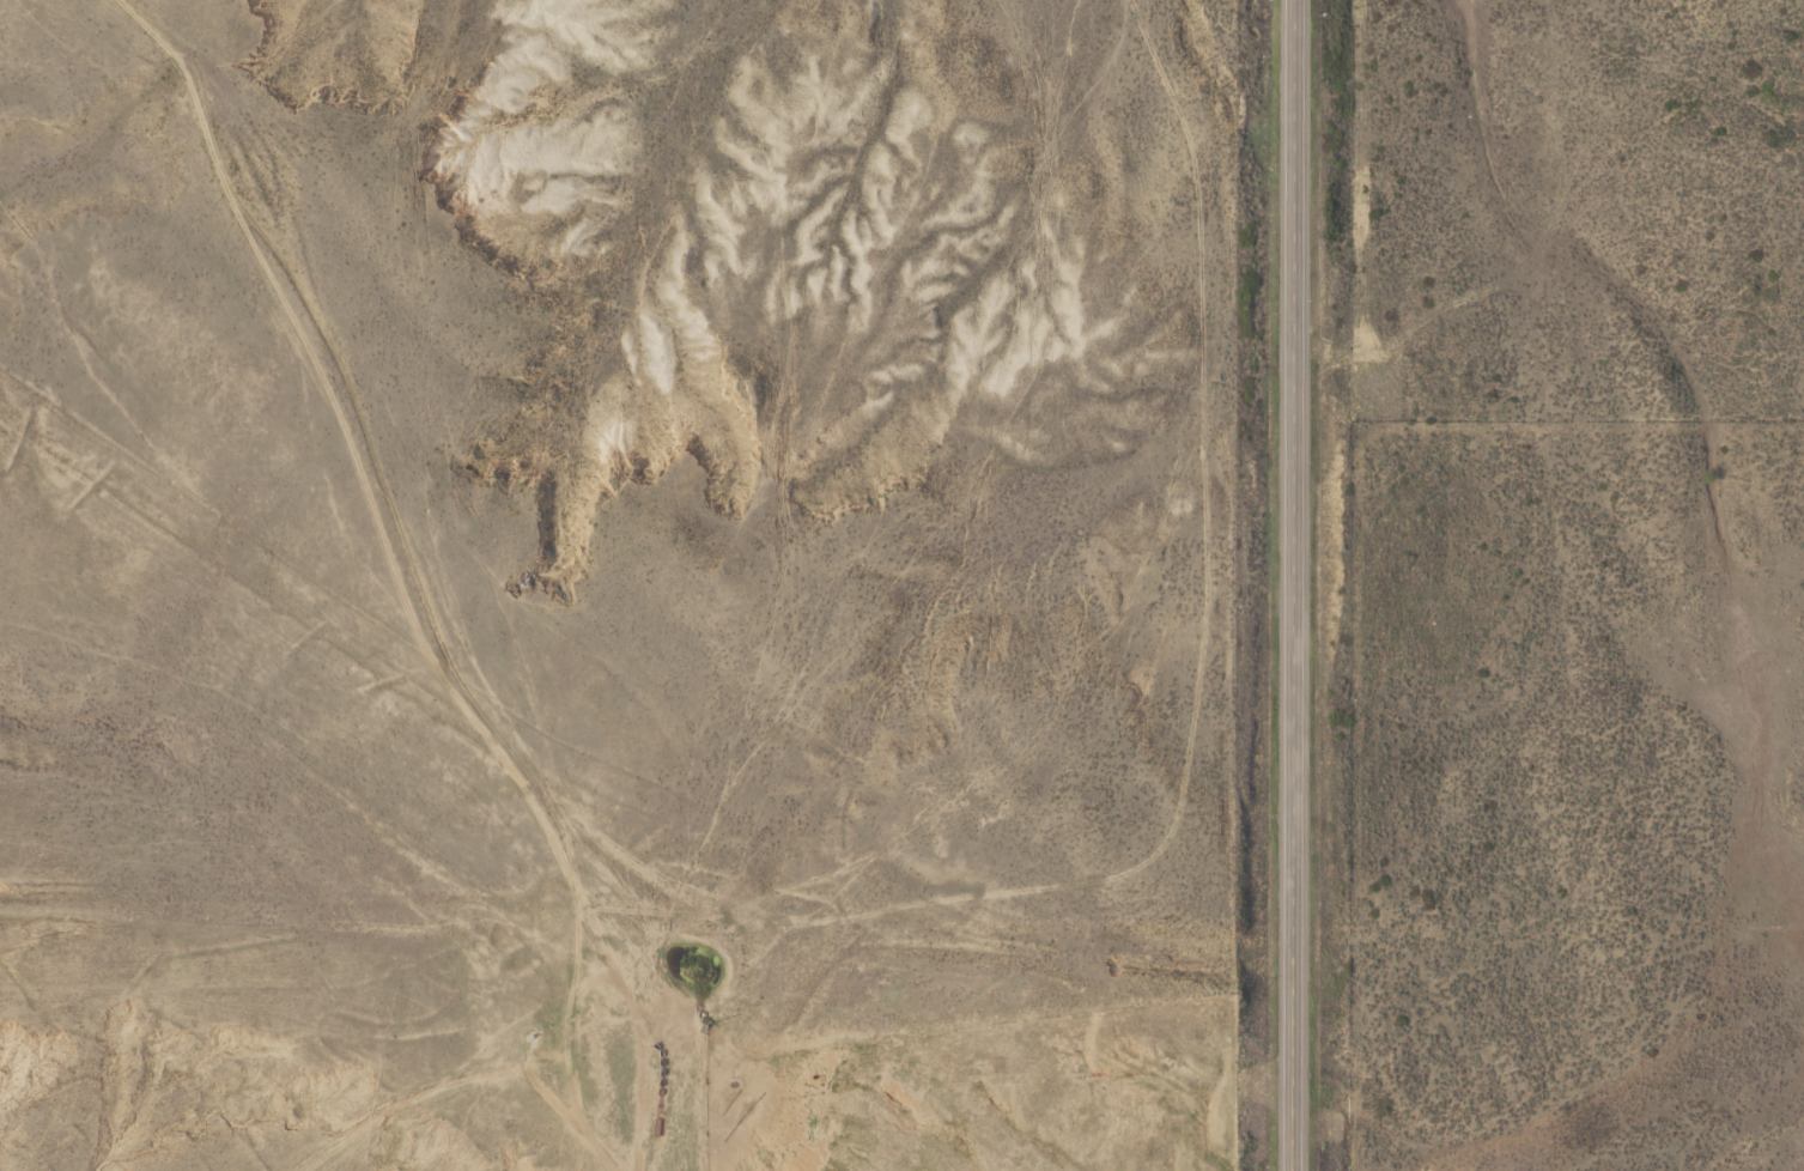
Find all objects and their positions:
road: (1296, 585)

